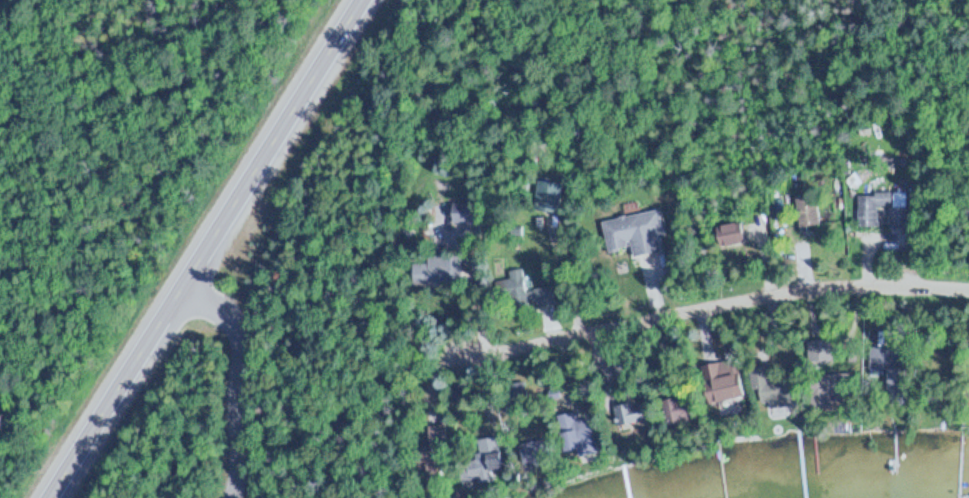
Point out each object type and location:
building: (550, 194)
building: (873, 207)
building: (809, 210)
building: (467, 211)
building: (900, 216)
building: (637, 232)
building: (732, 238)
road: (203, 248)
building: (440, 271)
building: (524, 289)
road: (704, 307)
road: (242, 349)
building: (819, 350)
building: (894, 373)
building: (833, 384)
building: (778, 389)
building: (683, 409)
building: (632, 414)
building: (578, 434)
building: (439, 448)
building: (535, 450)
building: (495, 453)

